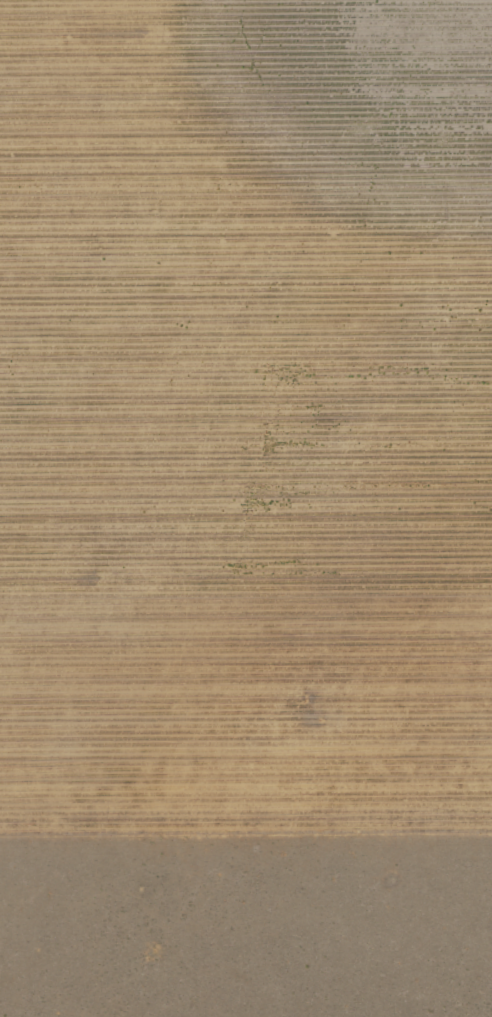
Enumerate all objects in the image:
road: (246, 831)

